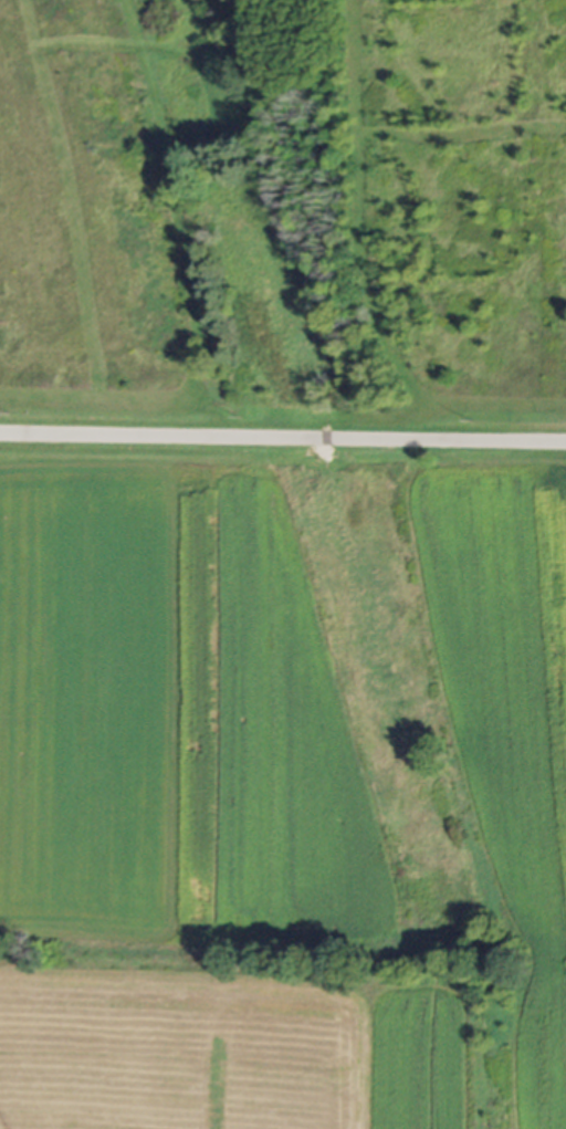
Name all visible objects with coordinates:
road: (283, 440)

